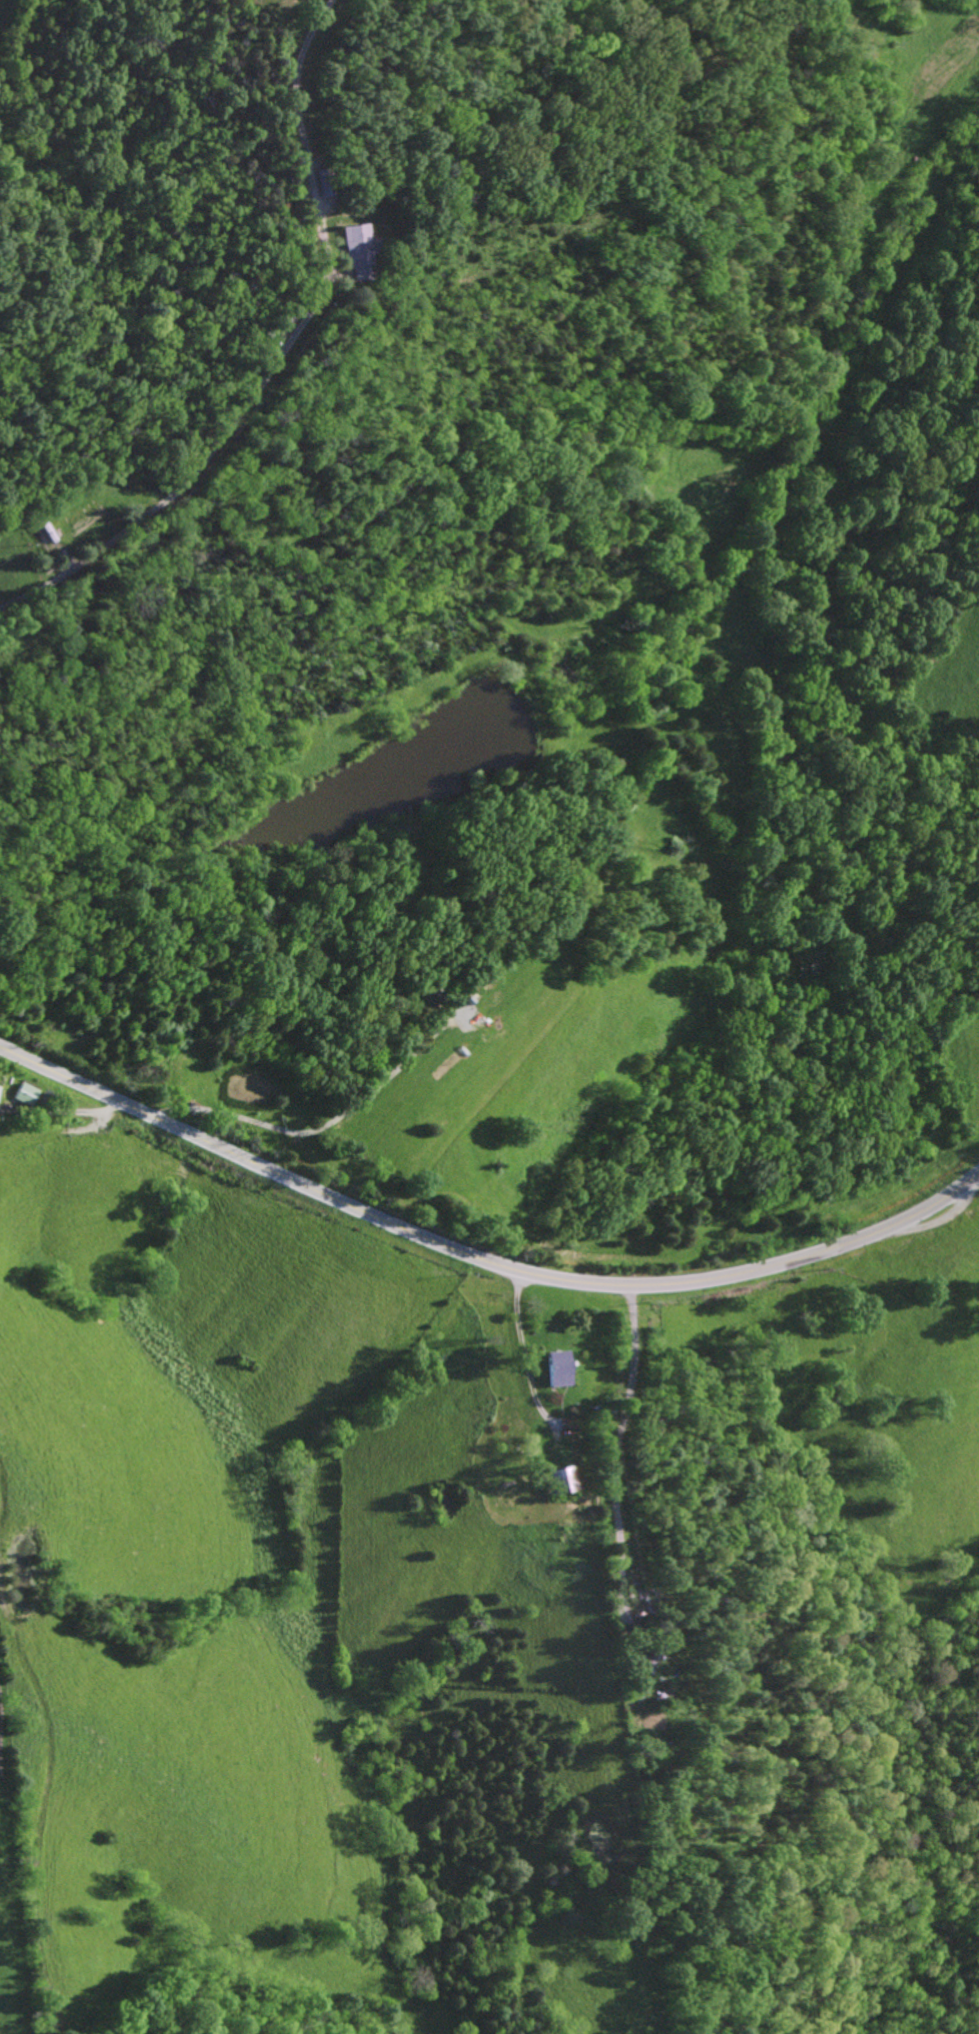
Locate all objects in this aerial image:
building: (359, 250)
road: (269, 357)
building: (26, 1094)
road: (62, 1119)
road: (324, 1133)
road: (205, 1140)
road: (702, 1281)
road: (440, 1353)
road: (522, 1353)
building: (559, 1368)
road: (610, 1450)
building: (565, 1481)

